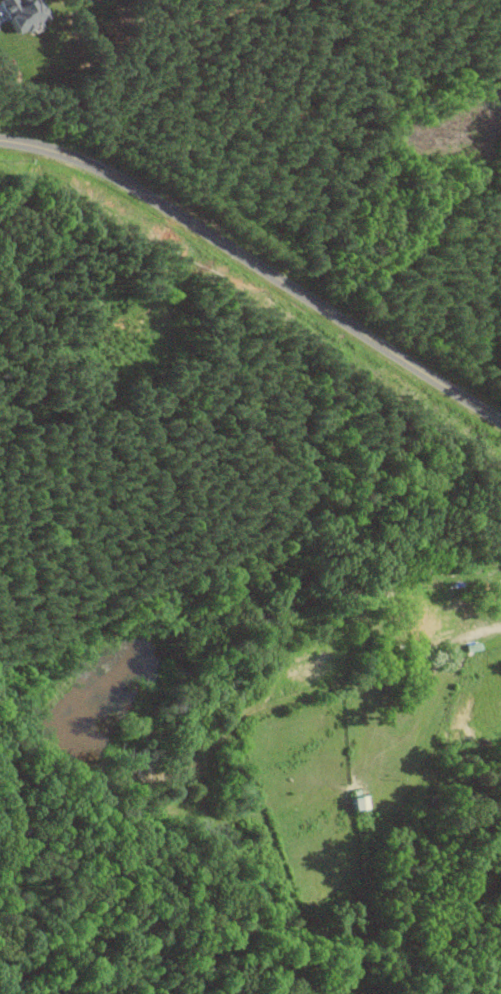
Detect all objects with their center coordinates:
building: (21, 12)
road: (257, 265)
building: (420, 622)
road: (487, 631)
dam: (100, 777)
building: (354, 802)

